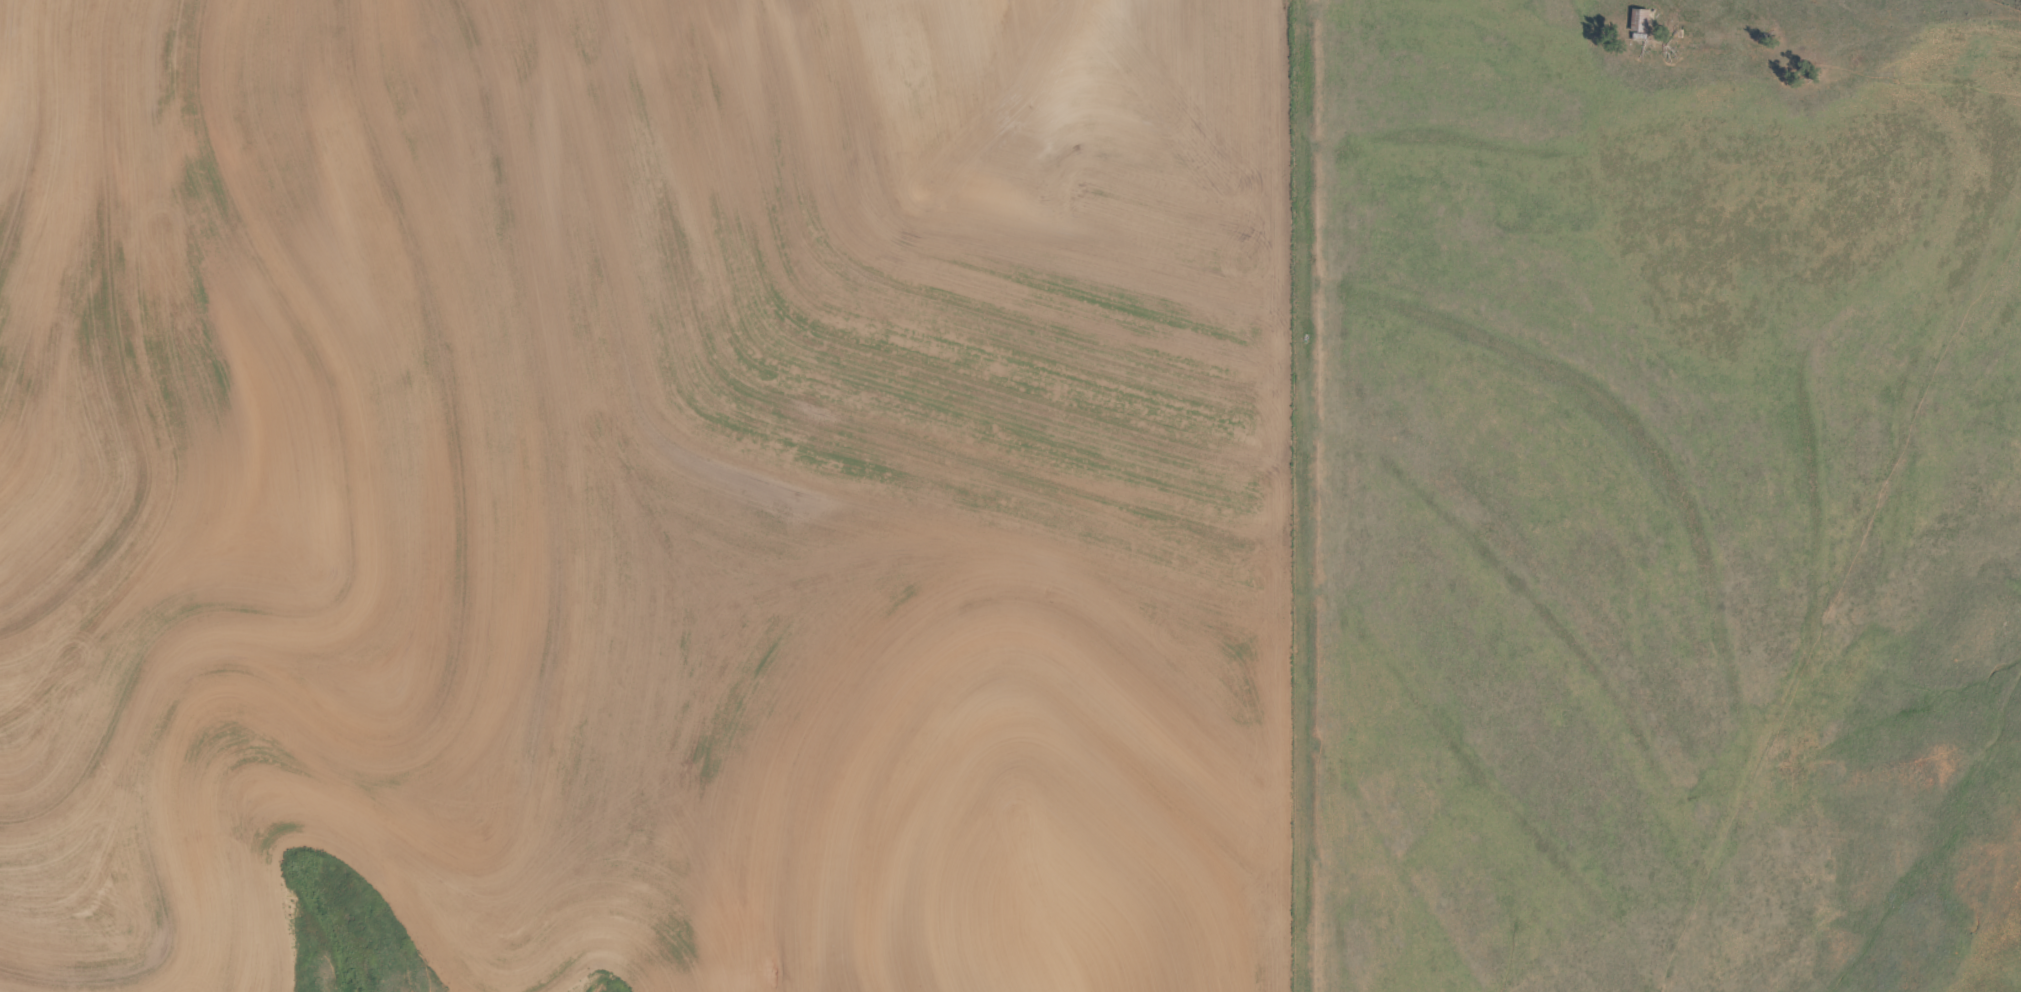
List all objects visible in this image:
building: (1642, 21)

